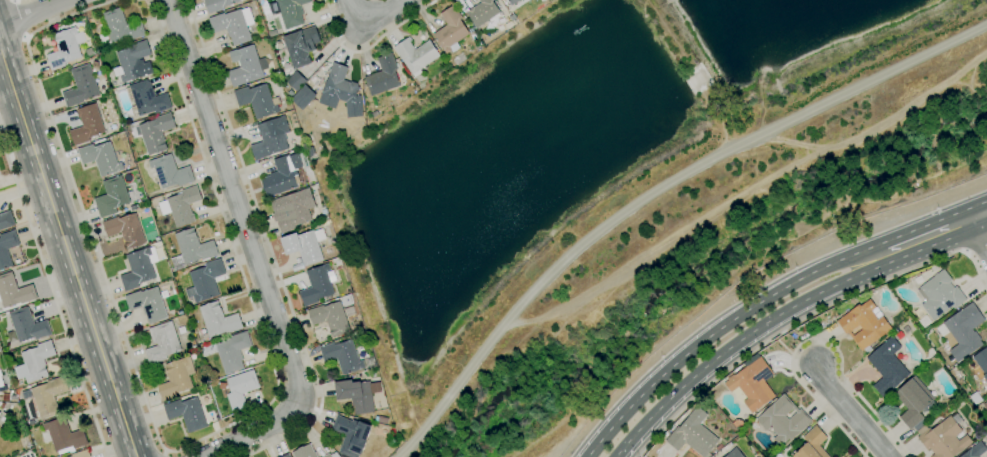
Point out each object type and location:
road: (6, 2)
building: (512, 2)
building: (217, 4)
building: (289, 12)
building: (482, 12)
road: (33, 13)
road: (350, 16)
road: (379, 16)
building: (83, 17)
road: (21, 19)
building: (92, 22)
building: (233, 24)
building: (119, 28)
building: (453, 30)
road: (14, 45)
building: (301, 46)
road: (371, 46)
building: (66, 47)
building: (416, 54)
building: (132, 61)
building: (247, 66)
building: (383, 76)
building: (296, 81)
building: (82, 86)
building: (342, 91)
building: (303, 96)
building: (146, 99)
building: (258, 100)
building: (87, 123)
building: (296, 125)
building: (111, 126)
building: (119, 129)
building: (153, 133)
building: (122, 137)
building: (271, 138)
building: (311, 150)
building: (100, 158)
building: (140, 164)
building: (170, 172)
building: (283, 175)
road: (655, 194)
building: (111, 197)
road: (235, 202)
building: (181, 206)
building: (134, 207)
building: (293, 209)
road: (980, 216)
building: (6, 220)
building: (326, 223)
building: (125, 230)
road: (980, 233)
building: (151, 236)
road: (912, 244)
building: (305, 246)
road: (269, 247)
building: (192, 248)
road: (977, 248)
road: (68, 255)
building: (5, 258)
building: (934, 267)
building: (139, 268)
road: (886, 278)
building: (917, 278)
building: (205, 281)
building: (318, 284)
building: (14, 291)
building: (939, 294)
road: (53, 296)
building: (148, 304)
building: (331, 318)
building: (218, 320)
building: (864, 325)
building: (26, 328)
building: (964, 331)
building: (5, 343)
building: (162, 343)
road: (783, 346)
building: (193, 348)
road: (715, 348)
building: (232, 352)
building: (346, 357)
building: (982, 361)
building: (35, 362)
building: (887, 366)
building: (176, 378)
building: (1, 382)
building: (752, 383)
building: (200, 385)
road: (849, 386)
building: (240, 389)
road: (701, 391)
building: (356, 395)
building: (46, 397)
building: (914, 402)
building: (3, 406)
building: (985, 406)
road: (822, 408)
road: (849, 412)
building: (0, 413)
building: (187, 413)
building: (935, 418)
building: (381, 420)
building: (782, 420)
road: (251, 430)
building: (693, 434)
building: (62, 436)
building: (351, 436)
building: (943, 437)
building: (812, 444)
building: (718, 448)
road: (169, 451)
building: (304, 451)
building: (972, 452)
building: (735, 453)
building: (82, 454)
road: (166, 454)
building: (287, 455)
building: (332, 455)

